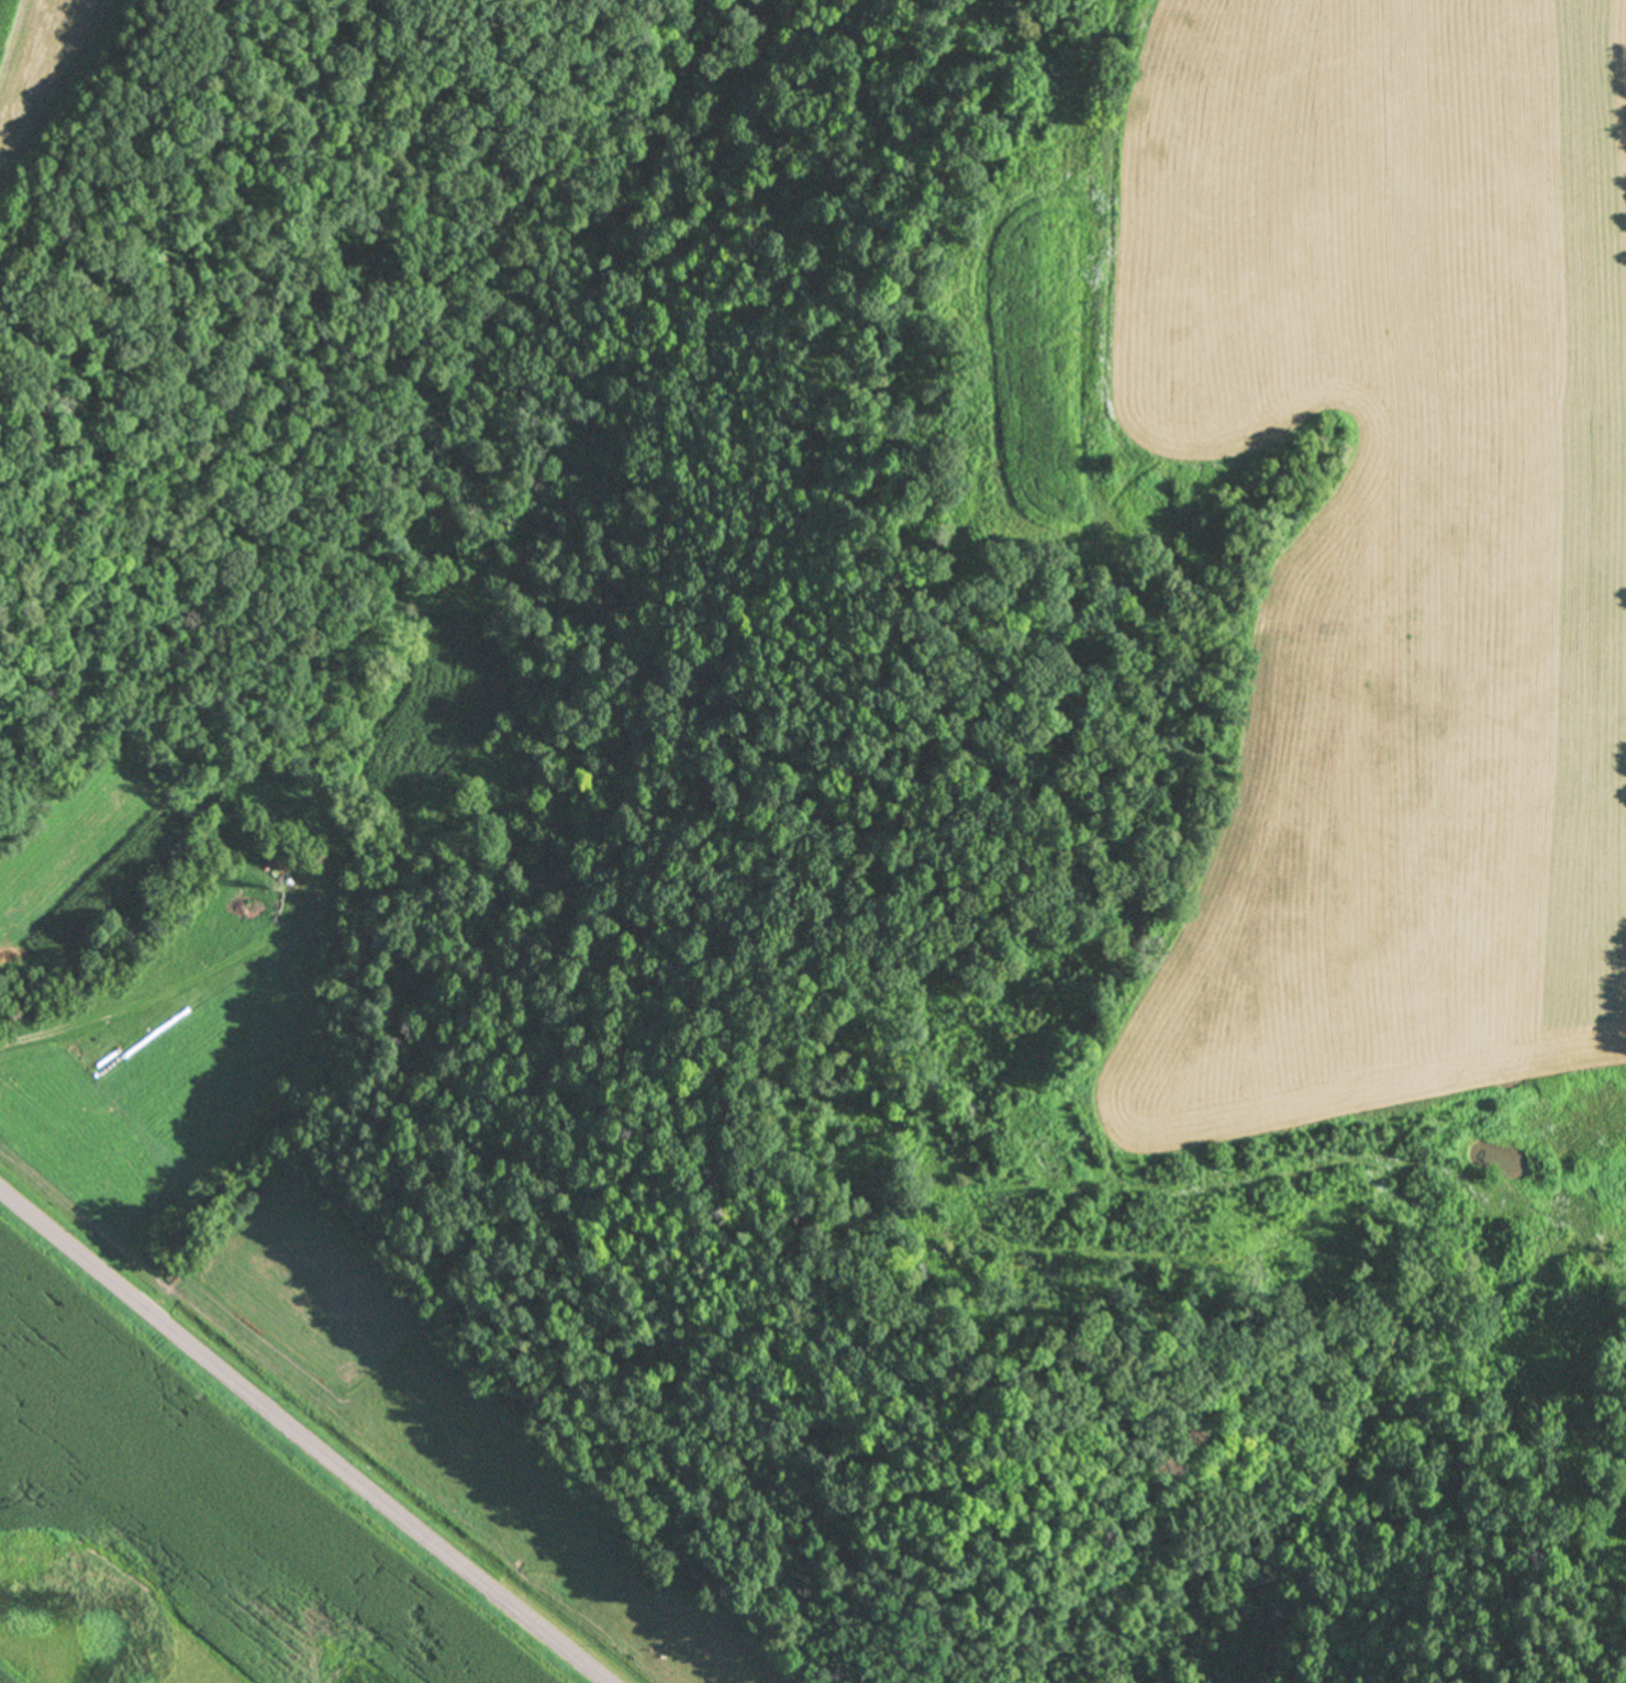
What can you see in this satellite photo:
road: (303, 1437)

